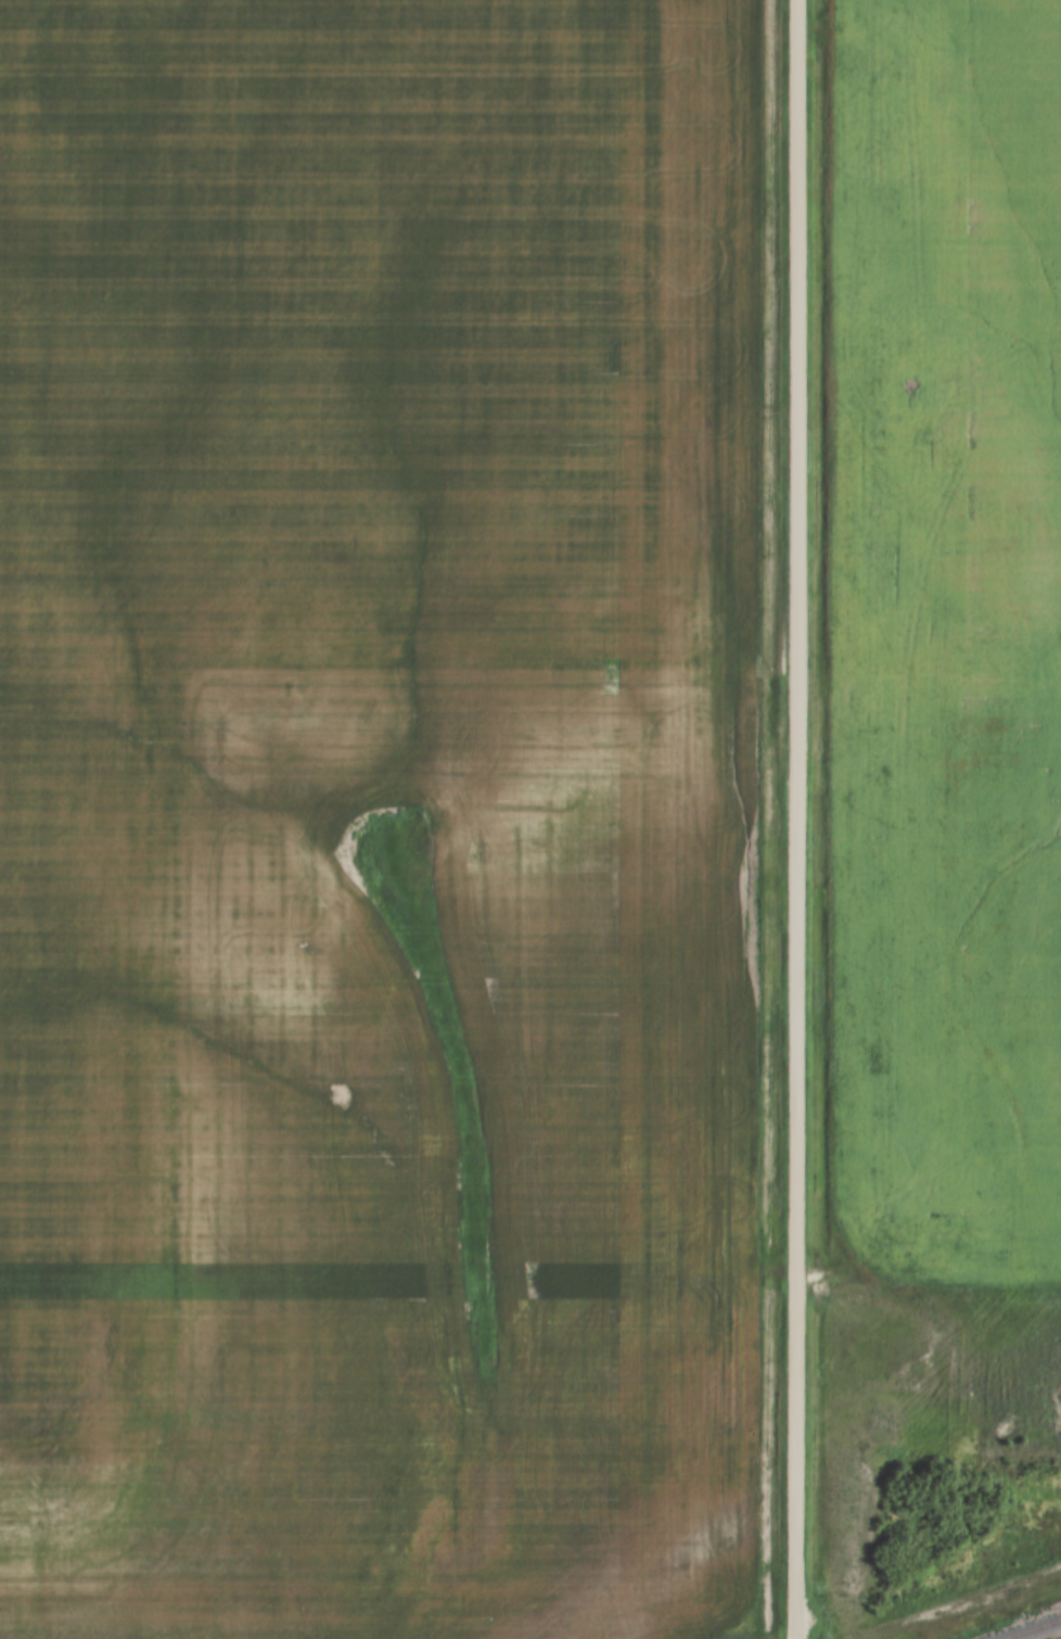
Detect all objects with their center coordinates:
building: (793, 89)
building: (793, 253)
road: (797, 819)
railway: (1023, 1626)

